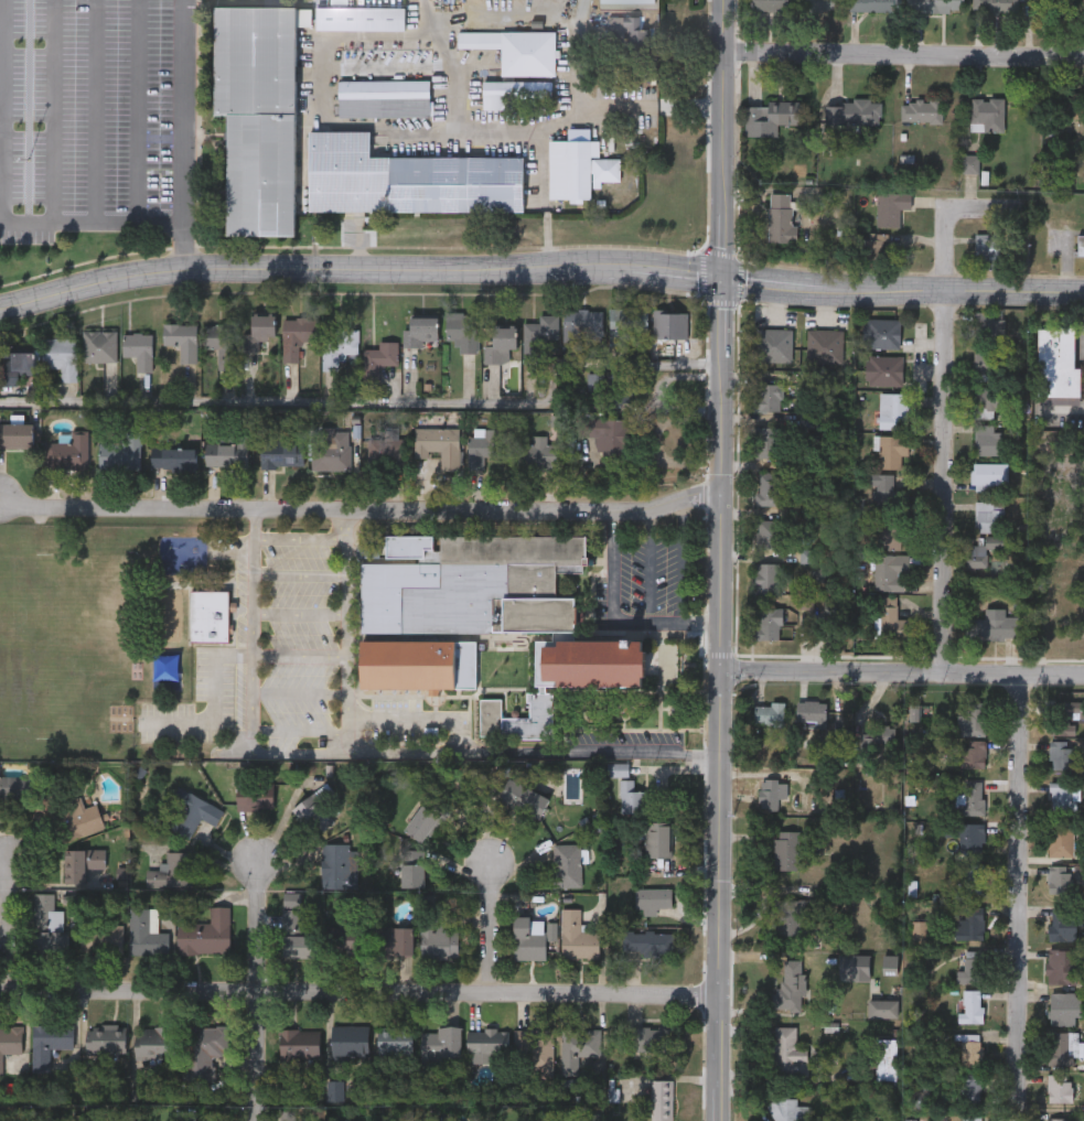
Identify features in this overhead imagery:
building: (1083, 0)
building: (1083, 2)
building: (772, 4)
building: (859, 4)
building: (936, 6)
building: (996, 6)
building: (361, 18)
building: (625, 36)
building: (517, 50)
road: (901, 57)
building: (382, 60)
road: (448, 62)
road: (321, 90)
building: (514, 93)
building: (384, 98)
building: (1074, 104)
road: (591, 109)
building: (921, 110)
road: (4, 111)
road: (50, 111)
road: (95, 111)
road: (140, 111)
building: (855, 111)
building: (257, 115)
building: (988, 115)
building: (771, 117)
road: (500, 131)
road: (187, 133)
building: (970, 163)
building: (578, 168)
building: (407, 179)
road: (540, 179)
building: (890, 208)
building: (781, 217)
road: (947, 219)
road: (94, 223)
building: (1080, 245)
building: (986, 251)
road: (635, 267)
traffic signals: (719, 280)
road: (92, 283)
building: (626, 324)
building: (670, 325)
building: (582, 326)
building: (989, 326)
building: (462, 331)
building: (541, 331)
building: (419, 332)
building: (882, 333)
building: (259, 335)
building: (297, 336)
building: (181, 339)
building: (498, 341)
building: (222, 343)
building: (774, 344)
building: (824, 345)
building: (99, 346)
building: (339, 347)
building: (139, 348)
building: (60, 355)
building: (382, 355)
building: (988, 365)
building: (1058, 365)
building: (18, 367)
building: (884, 369)
building: (768, 397)
building: (989, 400)
road: (268, 402)
building: (893, 410)
building: (15, 435)
building: (607, 435)
building: (987, 440)
road: (657, 441)
building: (768, 442)
building: (437, 445)
building: (483, 448)
building: (331, 450)
building: (892, 450)
building: (67, 452)
building: (121, 453)
building: (388, 453)
building: (226, 456)
building: (281, 456)
building: (537, 456)
building: (172, 459)
building: (988, 475)
road: (949, 479)
building: (770, 488)
building: (888, 493)
road: (359, 515)
building: (989, 516)
building: (889, 531)
building: (769, 535)
road: (299, 536)
building: (978, 554)
road: (718, 560)
road: (645, 567)
building: (891, 572)
road: (299, 574)
building: (768, 579)
building: (1065, 588)
road: (299, 612)
building: (210, 619)
building: (482, 621)
building: (892, 621)
road: (654, 624)
building: (769, 624)
building: (994, 625)
road: (299, 654)
road: (901, 669)
road: (250, 683)
building: (811, 711)
building: (769, 712)
building: (974, 718)
building: (1064, 718)
road: (415, 752)
building: (973, 754)
building: (1061, 754)
building: (13, 787)
building: (771, 791)
building: (1061, 795)
building: (972, 797)
building: (522, 798)
building: (631, 798)
building: (253, 802)
building: (182, 813)
building: (68, 818)
building: (426, 818)
building: (967, 836)
building: (656, 840)
building: (1061, 840)
building: (786, 849)
building: (79, 863)
building: (336, 865)
building: (565, 865)
building: (172, 871)
building: (410, 875)
building: (970, 877)
building: (1060, 879)
road: (1026, 896)
building: (651, 898)
building: (292, 924)
building: (968, 924)
building: (1062, 924)
road: (7, 925)
building: (46, 925)
road: (254, 926)
road: (485, 926)
building: (141, 930)
building: (204, 933)
building: (576, 936)
building: (99, 938)
building: (437, 939)
building: (528, 939)
building: (395, 941)
building: (648, 941)
building: (350, 944)
building: (1064, 966)
building: (972, 967)
building: (790, 985)
road: (358, 991)
building: (972, 1005)
building: (1064, 1007)
building: (104, 1038)
building: (651, 1038)
building: (9, 1041)
building: (151, 1042)
building: (394, 1042)
building: (47, 1043)
building: (348, 1043)
building: (440, 1043)
building: (486, 1044)
building: (298, 1045)
building: (577, 1047)
building: (1061, 1048)
building: (203, 1049)
building: (970, 1049)
building: (534, 1050)
building: (787, 1053)
road: (255, 1056)
building: (886, 1059)
building: (1059, 1088)
building: (969, 1090)
building: (661, 1100)
building: (790, 1110)
building: (970, 1118)
building: (1059, 1119)

